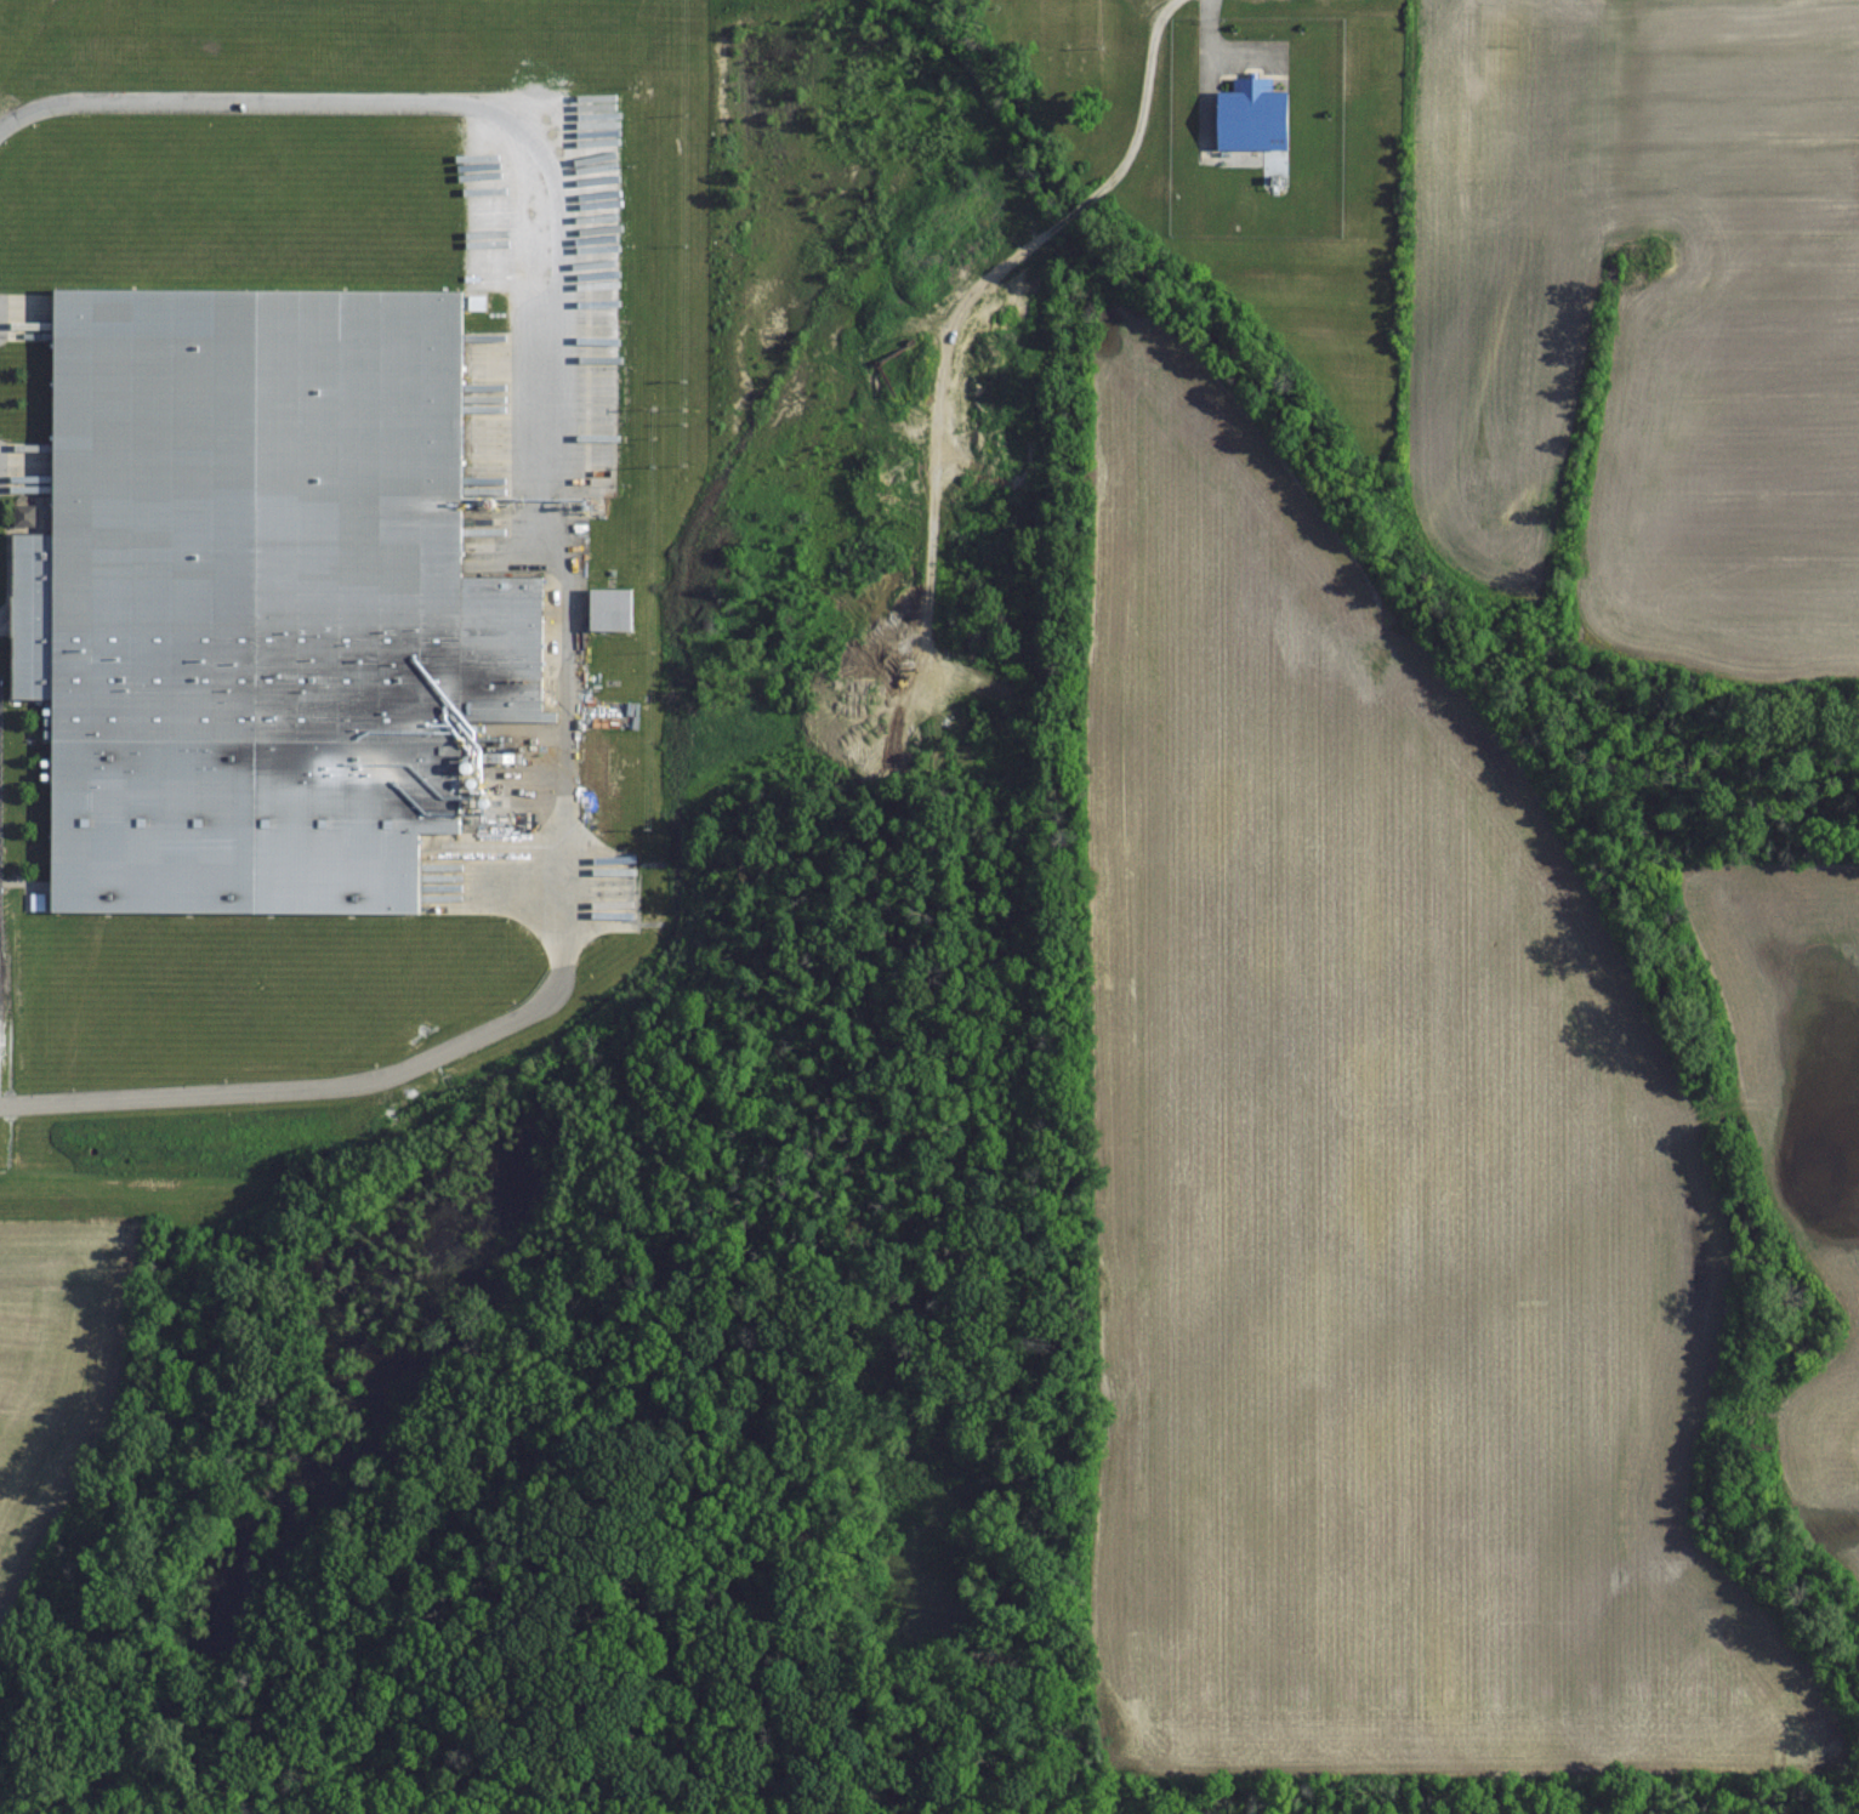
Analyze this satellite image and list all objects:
road: (1206, 52)
building: (1247, 113)
road: (569, 578)
building: (251, 598)
building: (606, 609)

